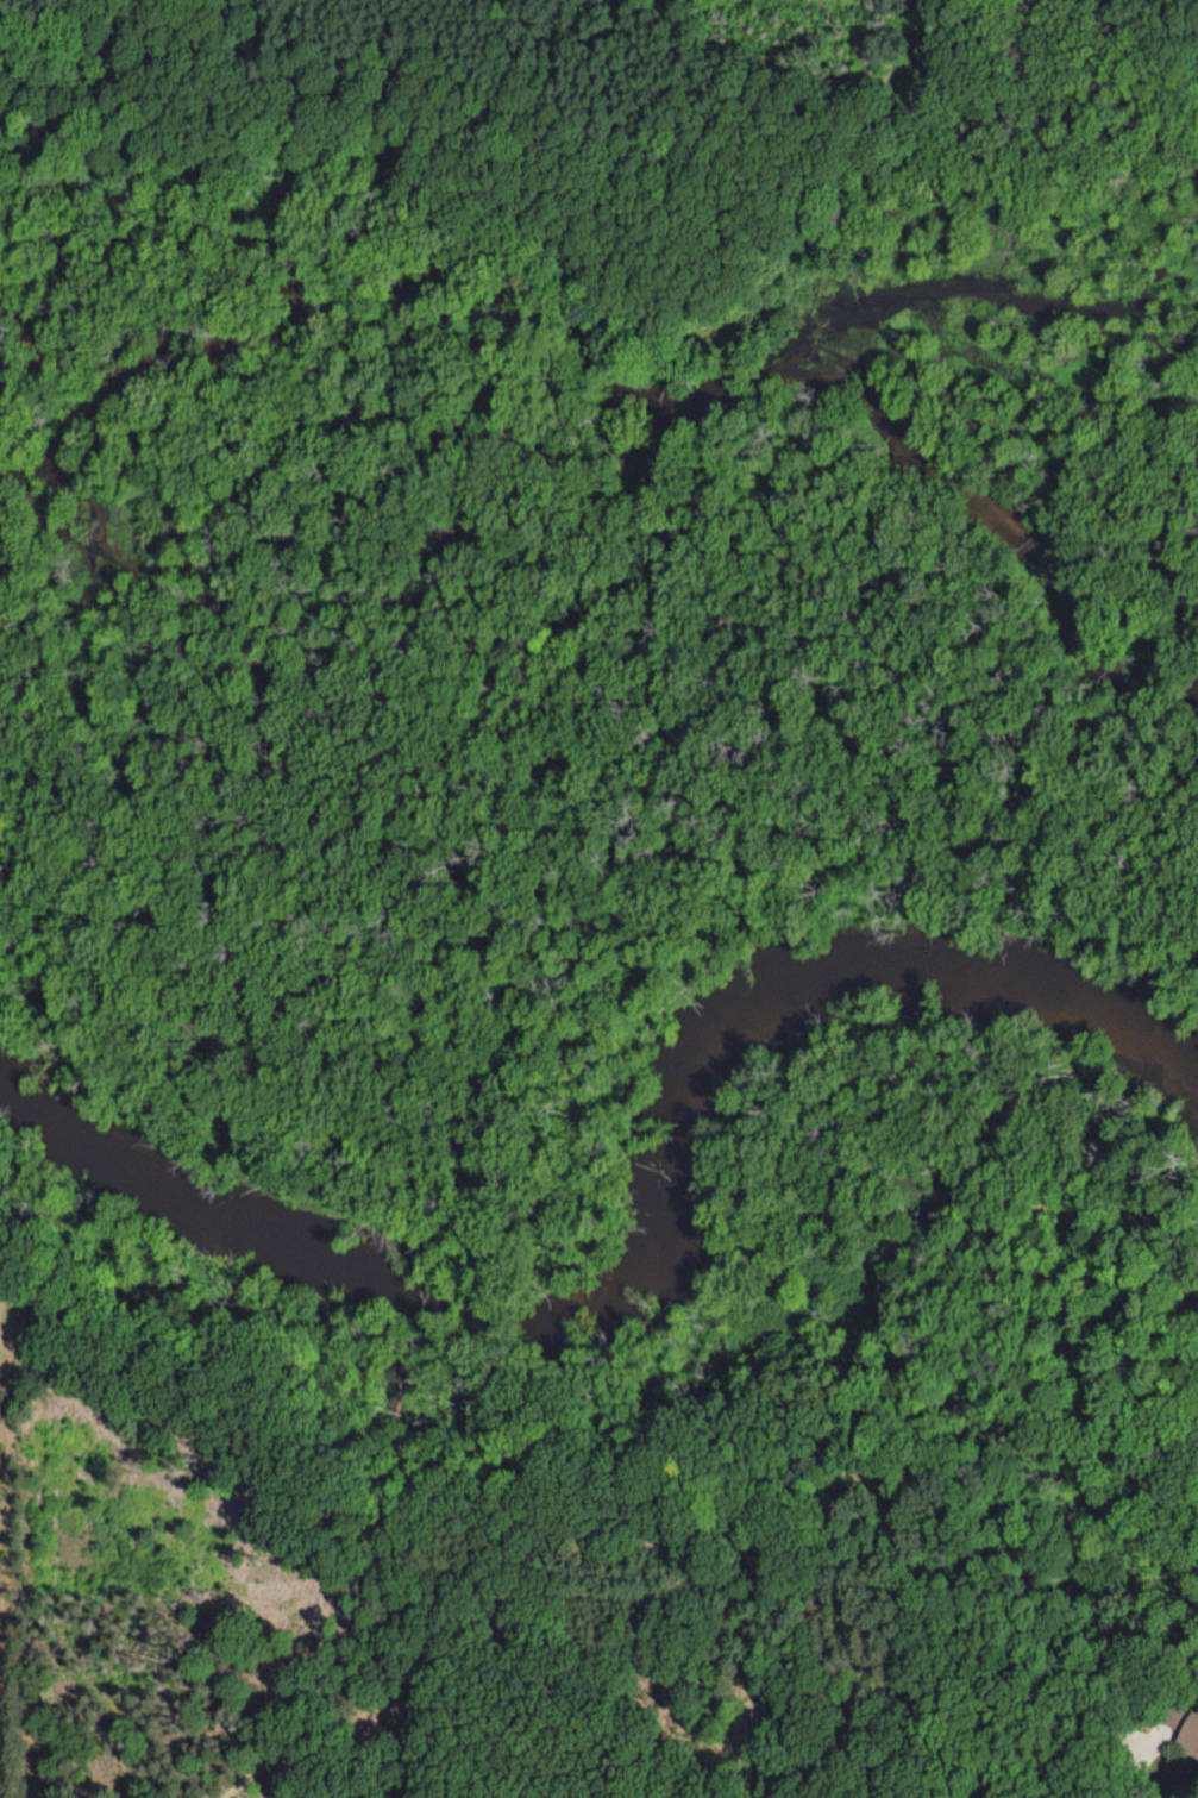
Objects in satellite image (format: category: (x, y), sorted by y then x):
river: (646, 1241)
building: (1192, 1733)

